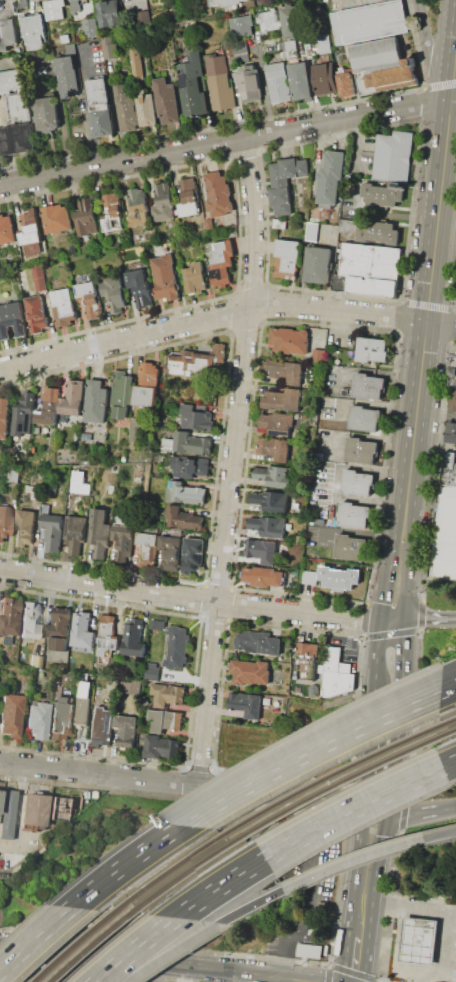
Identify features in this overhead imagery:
building: (224, 2)
building: (22, 3)
road: (347, 3)
building: (75, 5)
building: (54, 9)
building: (109, 13)
building: (143, 17)
building: (370, 20)
building: (268, 21)
building: (192, 22)
building: (288, 23)
building: (241, 26)
building: (91, 27)
building: (33, 31)
building: (8, 33)
building: (65, 38)
road: (426, 40)
building: (324, 43)
building: (109, 47)
building: (291, 49)
building: (239, 51)
building: (136, 61)
road: (455, 62)
building: (381, 67)
building: (67, 76)
building: (325, 79)
building: (301, 81)
building: (219, 82)
building: (278, 82)
building: (250, 83)
building: (347, 83)
building: (193, 84)
building: (16, 95)
road: (451, 96)
building: (166, 100)
road: (87, 105)
building: (101, 106)
building: (126, 108)
building: (147, 109)
building: (47, 114)
road: (452, 123)
road: (447, 134)
building: (19, 137)
road: (226, 142)
road: (359, 142)
building: (391, 157)
building: (330, 178)
building: (284, 182)
building: (219, 194)
building: (382, 194)
building: (188, 197)
road: (356, 201)
building: (162, 203)
building: (137, 207)
building: (113, 212)
road: (396, 215)
building: (57, 218)
building: (86, 218)
building: (209, 223)
building: (279, 223)
building: (30, 227)
building: (348, 228)
building: (6, 229)
building: (379, 232)
road: (436, 232)
building: (287, 259)
building: (371, 261)
building: (222, 263)
building: (317, 264)
building: (39, 278)
building: (165, 278)
building: (195, 278)
building: (140, 287)
building: (362, 287)
building: (85, 289)
building: (115, 293)
building: (63, 306)
building: (93, 306)
road: (337, 309)
building: (36, 314)
building: (12, 320)
road: (441, 323)
road: (124, 339)
building: (289, 340)
building: (372, 349)
building: (319, 356)
building: (198, 362)
building: (285, 371)
road: (368, 371)
building: (453, 372)
building: (146, 385)
building: (368, 386)
building: (121, 393)
road: (417, 396)
building: (73, 398)
building: (282, 399)
building: (96, 401)
building: (452, 401)
road: (368, 403)
building: (49, 406)
building: (23, 414)
road: (436, 414)
building: (4, 416)
building: (64, 417)
building: (196, 417)
building: (364, 418)
building: (277, 423)
building: (135, 429)
building: (450, 432)
building: (297, 435)
building: (86, 436)
road: (362, 436)
building: (191, 443)
building: (168, 445)
road: (434, 446)
building: (274, 448)
building: (33, 450)
building: (361, 450)
building: (86, 462)
road: (232, 462)
building: (189, 466)
building: (3, 467)
building: (155, 468)
building: (449, 468)
building: (274, 475)
building: (13, 476)
road: (333, 481)
building: (357, 483)
building: (31, 490)
road: (407, 492)
building: (184, 493)
building: (270, 500)
building: (45, 509)
building: (354, 515)
building: (183, 518)
building: (118, 519)
building: (4, 520)
building: (287, 526)
building: (25, 527)
building: (266, 527)
building: (52, 531)
building: (99, 532)
road: (351, 532)
building: (75, 533)
building: (446, 535)
building: (147, 539)
building: (300, 539)
building: (123, 545)
building: (350, 546)
building: (261, 550)
building: (170, 552)
building: (192, 554)
building: (148, 555)
building: (263, 575)
building: (338, 576)
building: (309, 577)
road: (175, 597)
building: (9, 615)
road: (368, 618)
road: (431, 618)
traffic signals: (384, 619)
road: (395, 619)
traffic signals: (406, 619)
building: (29, 624)
building: (58, 628)
building: (82, 630)
building: (107, 634)
building: (134, 638)
building: (6, 640)
building: (258, 643)
building: (176, 647)
building: (306, 660)
building: (35, 661)
building: (334, 665)
building: (151, 671)
building: (250, 672)
building: (85, 677)
road: (447, 685)
building: (132, 686)
road: (447, 686)
building: (316, 690)
building: (167, 695)
building: (266, 699)
building: (109, 701)
building: (146, 701)
building: (83, 702)
building: (245, 703)
building: (62, 714)
building: (11, 715)
road: (373, 716)
road: (394, 717)
railway: (450, 719)
building: (39, 720)
building: (165, 720)
building: (102, 726)
railway: (452, 729)
building: (126, 730)
building: (160, 747)
road: (306, 751)
road: (449, 763)
railway: (329, 774)
railway: (343, 779)
road: (182, 785)
building: (57, 808)
traffic signals: (364, 808)
building: (33, 810)
road: (351, 810)
road: (374, 810)
road: (14, 812)
traffic signals: (384, 812)
building: (6, 813)
road: (420, 813)
road: (440, 836)
road: (350, 862)
road: (122, 863)
railway: (187, 870)
railway: (166, 871)
road: (218, 886)
road: (412, 905)
road: (248, 907)
road: (363, 930)
road: (400, 935)
road: (33, 937)
building: (419, 941)
railway: (90, 943)
road: (447, 943)
railway: (71, 944)
road: (132, 948)
road: (170, 952)
road: (359, 960)
road: (158, 963)
road: (419, 971)
road: (162, 973)
road: (417, 976)

